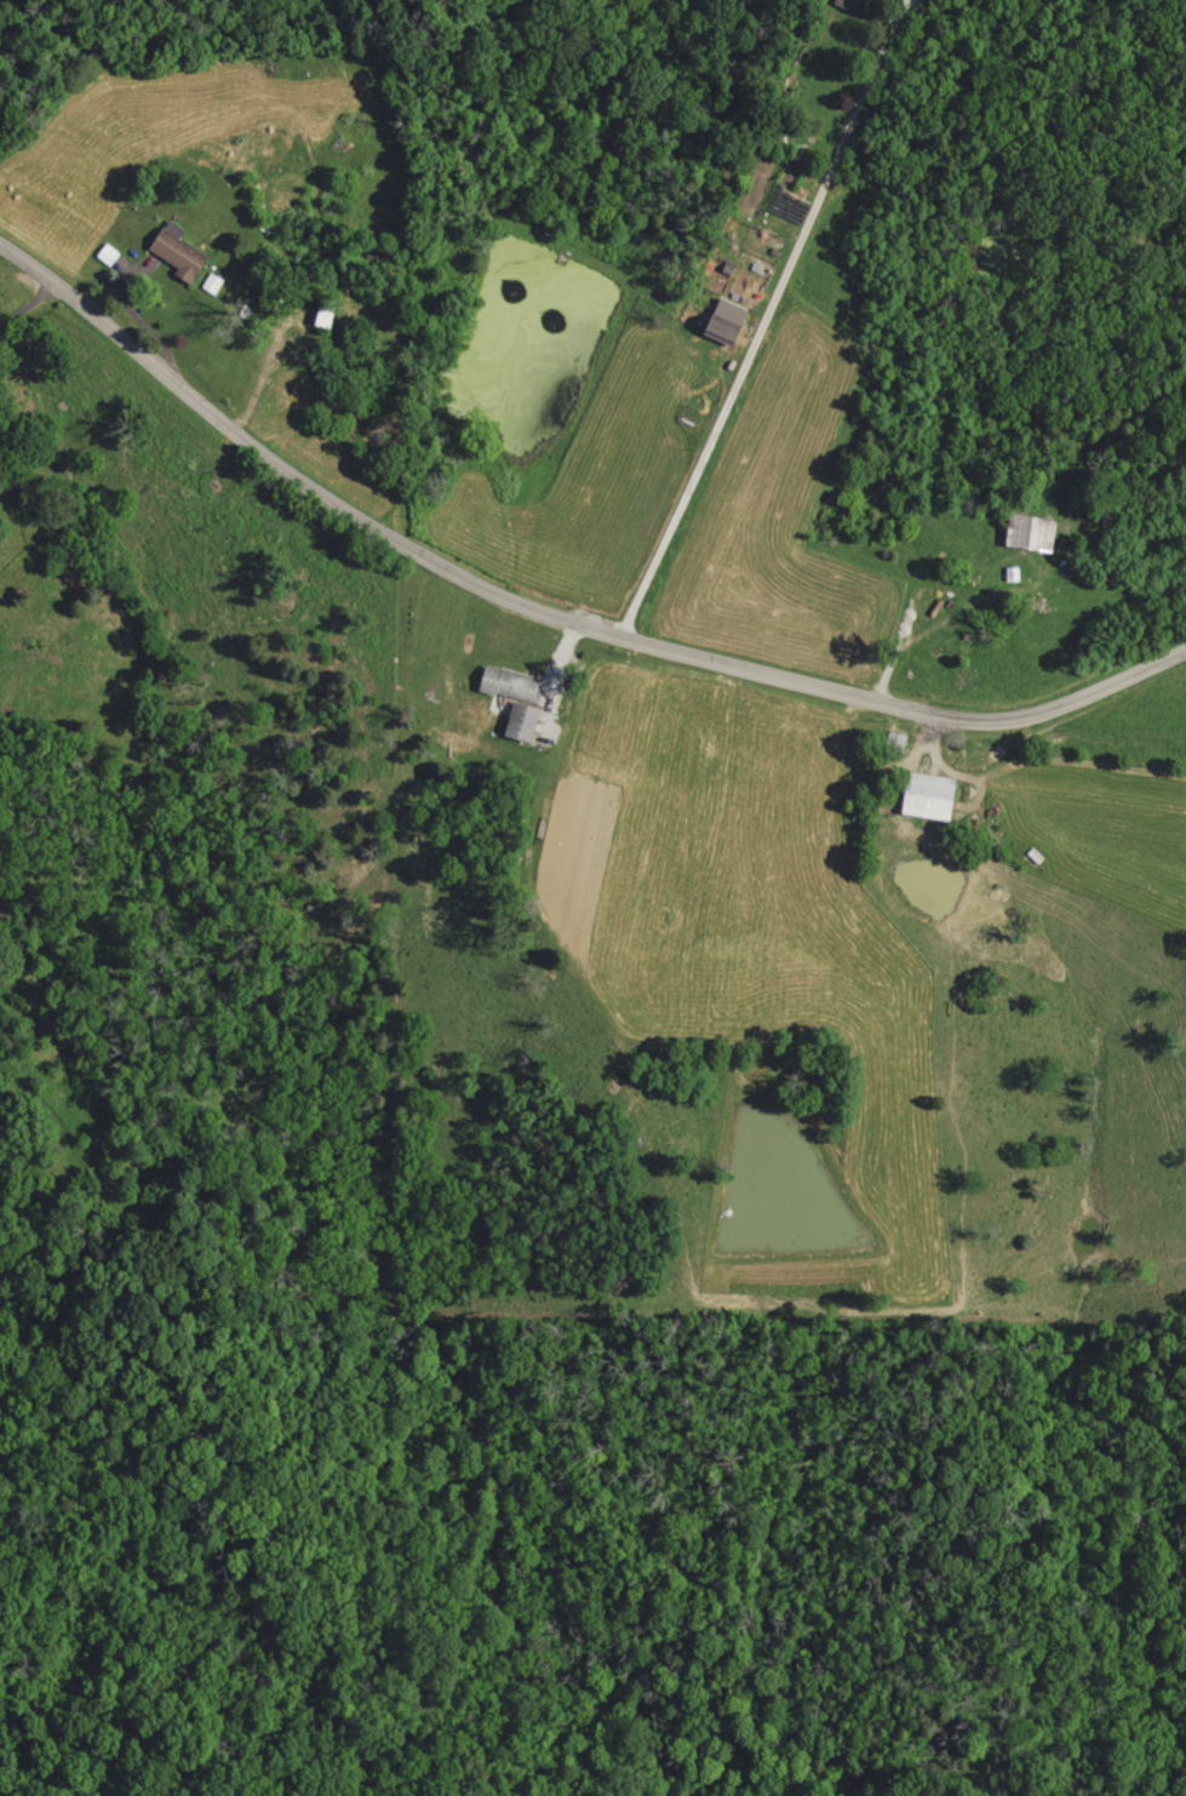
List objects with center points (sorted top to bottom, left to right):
building: (855, 4)
building: (184, 252)
building: (111, 254)
building: (216, 282)
road: (28, 309)
road: (767, 320)
building: (732, 324)
building: (1025, 531)
road: (548, 616)
building: (512, 698)
building: (919, 795)

